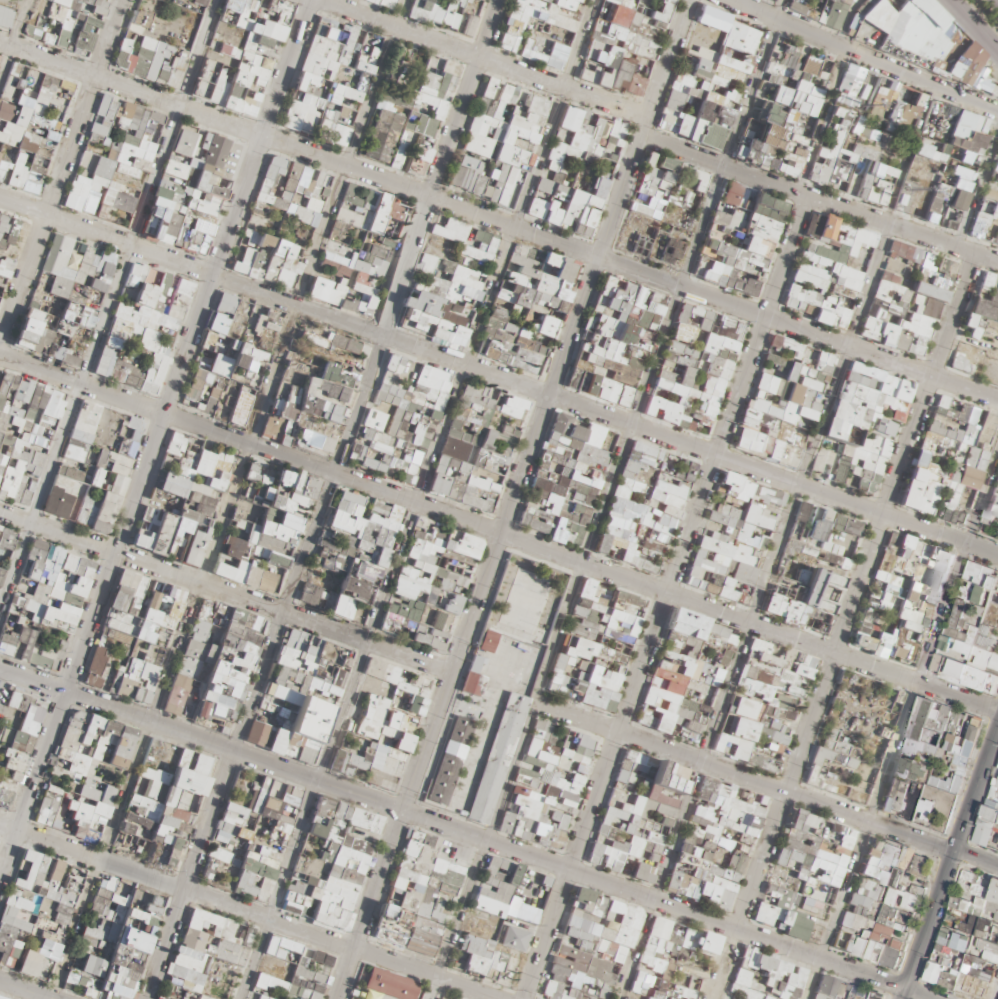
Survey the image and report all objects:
road: (735, 0)
road: (995, 2)
building: (378, 4)
building: (619, 11)
road: (397, 13)
building: (59, 22)
road: (18, 23)
road: (970, 27)
building: (541, 29)
road: (110, 38)
building: (244, 53)
building: (142, 54)
road: (484, 55)
building: (698, 59)
road: (864, 59)
building: (615, 69)
building: (335, 79)
building: (705, 106)
building: (18, 107)
building: (421, 110)
building: (785, 118)
road: (820, 122)
road: (544, 142)
building: (538, 151)
road: (910, 155)
building: (962, 169)
road: (976, 183)
building: (80, 188)
building: (190, 195)
building: (314, 201)
road: (818, 201)
building: (357, 221)
road: (498, 221)
building: (271, 225)
building: (839, 228)
building: (742, 243)
building: (7, 244)
road: (680, 280)
building: (811, 284)
building: (328, 287)
building: (68, 289)
road: (108, 307)
building: (906, 310)
building: (425, 315)
building: (138, 316)
building: (532, 317)
building: (249, 322)
building: (618, 338)
road: (189, 345)
building: (695, 365)
building: (799, 382)
building: (869, 403)
building: (243, 404)
building: (328, 409)
building: (752, 436)
building: (953, 451)
building: (480, 456)
building: (215, 459)
building: (657, 476)
road: (512, 498)
road: (324, 499)
building: (992, 515)
building: (843, 545)
building: (404, 564)
building: (906, 592)
road: (666, 598)
road: (752, 611)
road: (845, 626)
building: (972, 629)
building: (734, 644)
building: (597, 647)
road: (904, 721)
building: (947, 736)
building: (852, 737)
building: (674, 770)
building: (916, 799)
building: (632, 817)
building: (987, 827)
building: (813, 838)
building: (888, 860)
road: (948, 860)
building: (690, 868)
building: (868, 926)
building: (847, 990)

